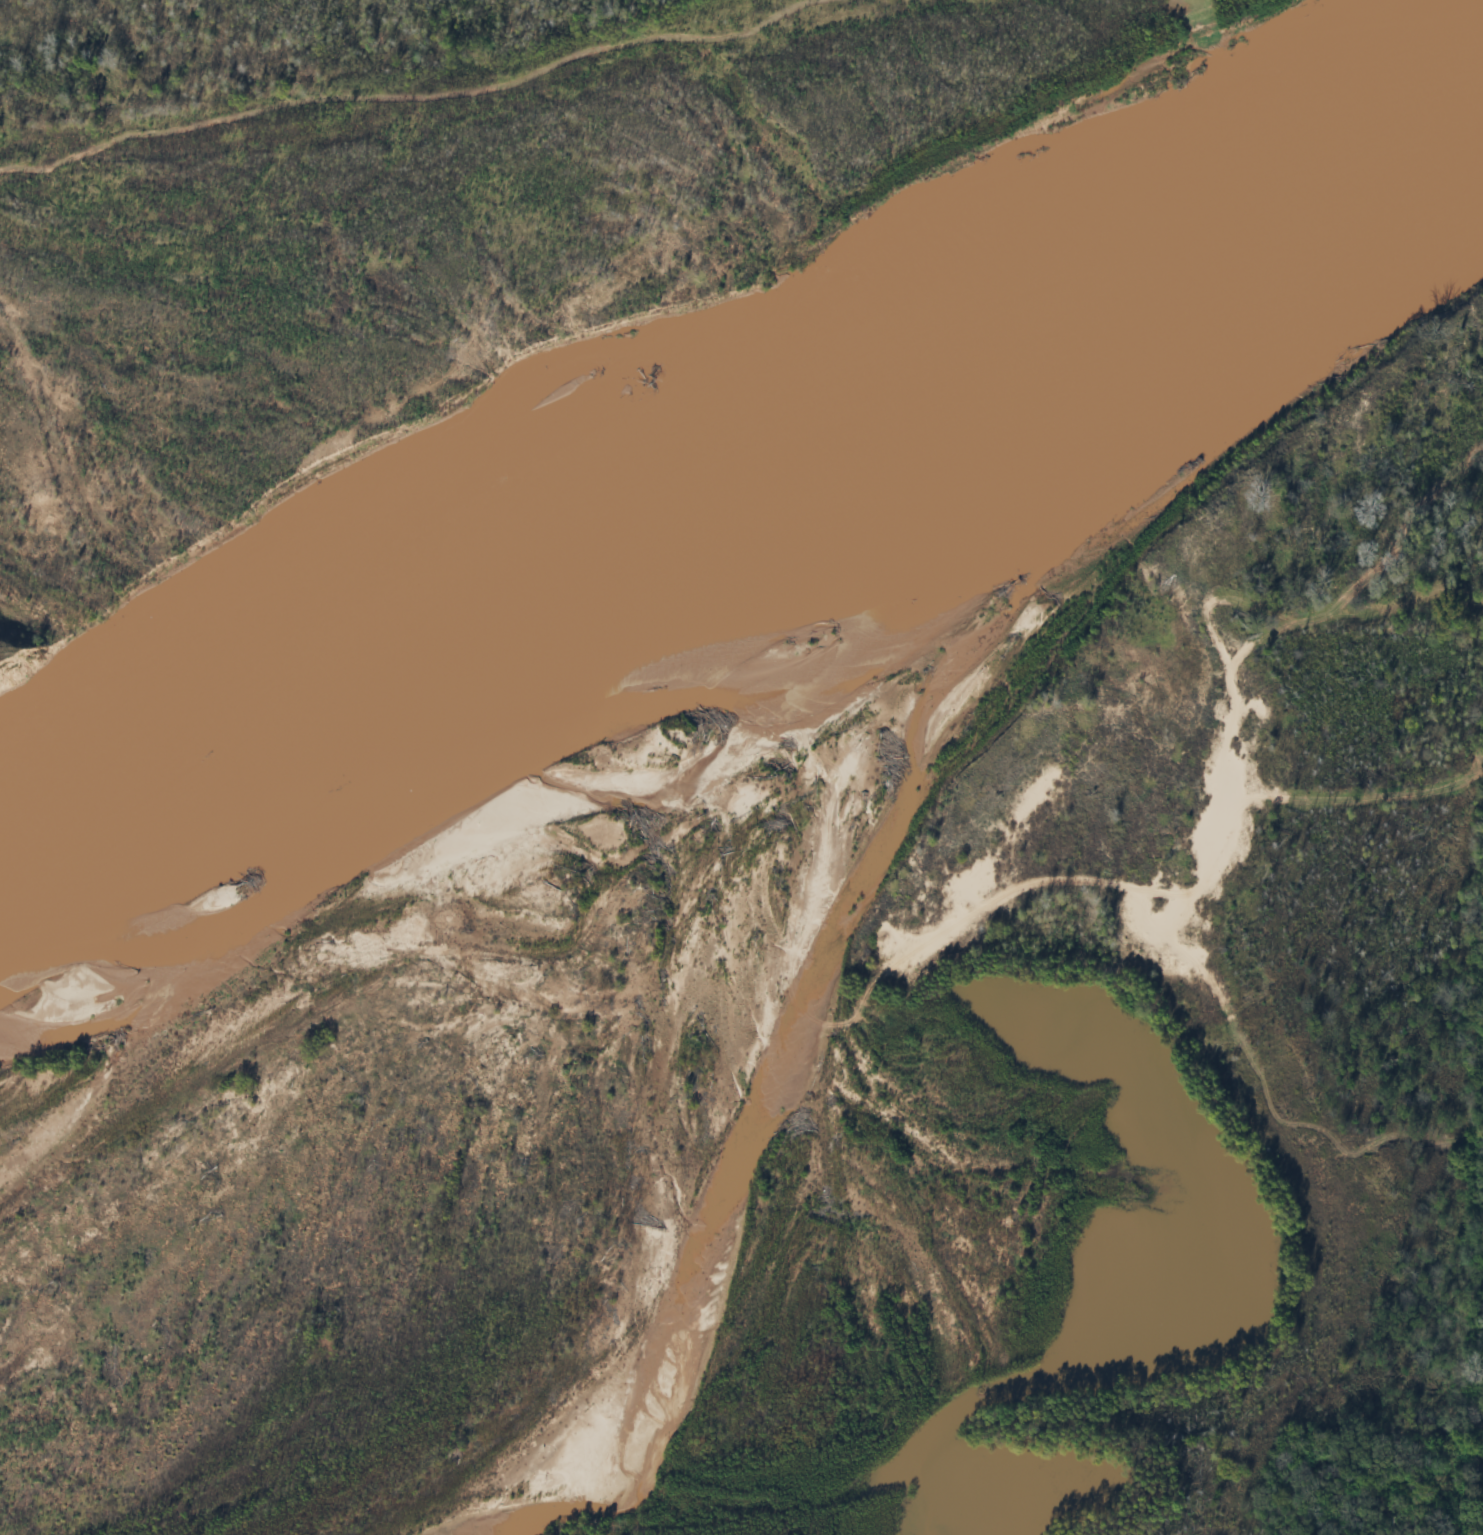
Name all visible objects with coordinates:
river: (588, 157)

